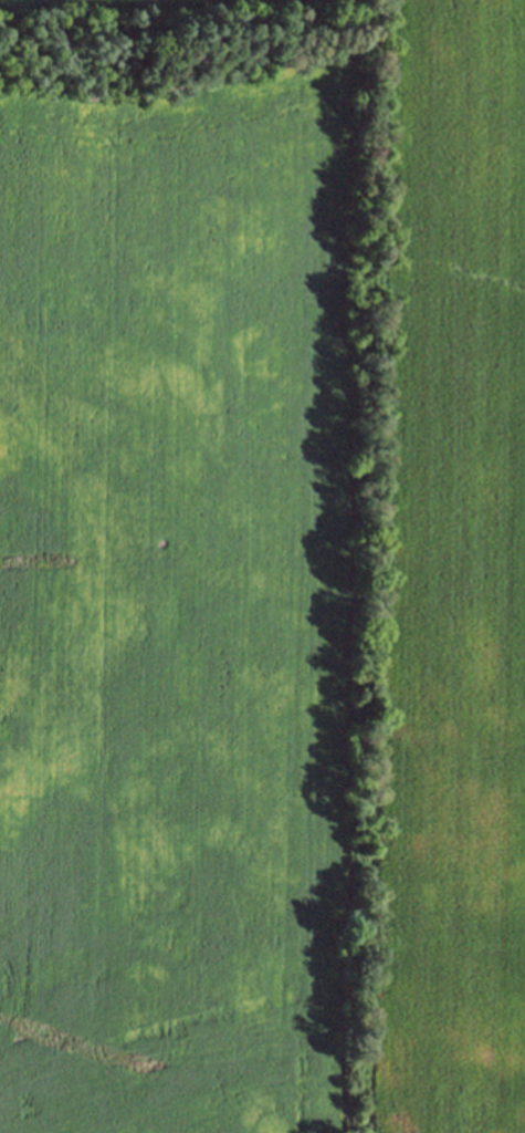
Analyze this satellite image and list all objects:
crop: (262, 566)

